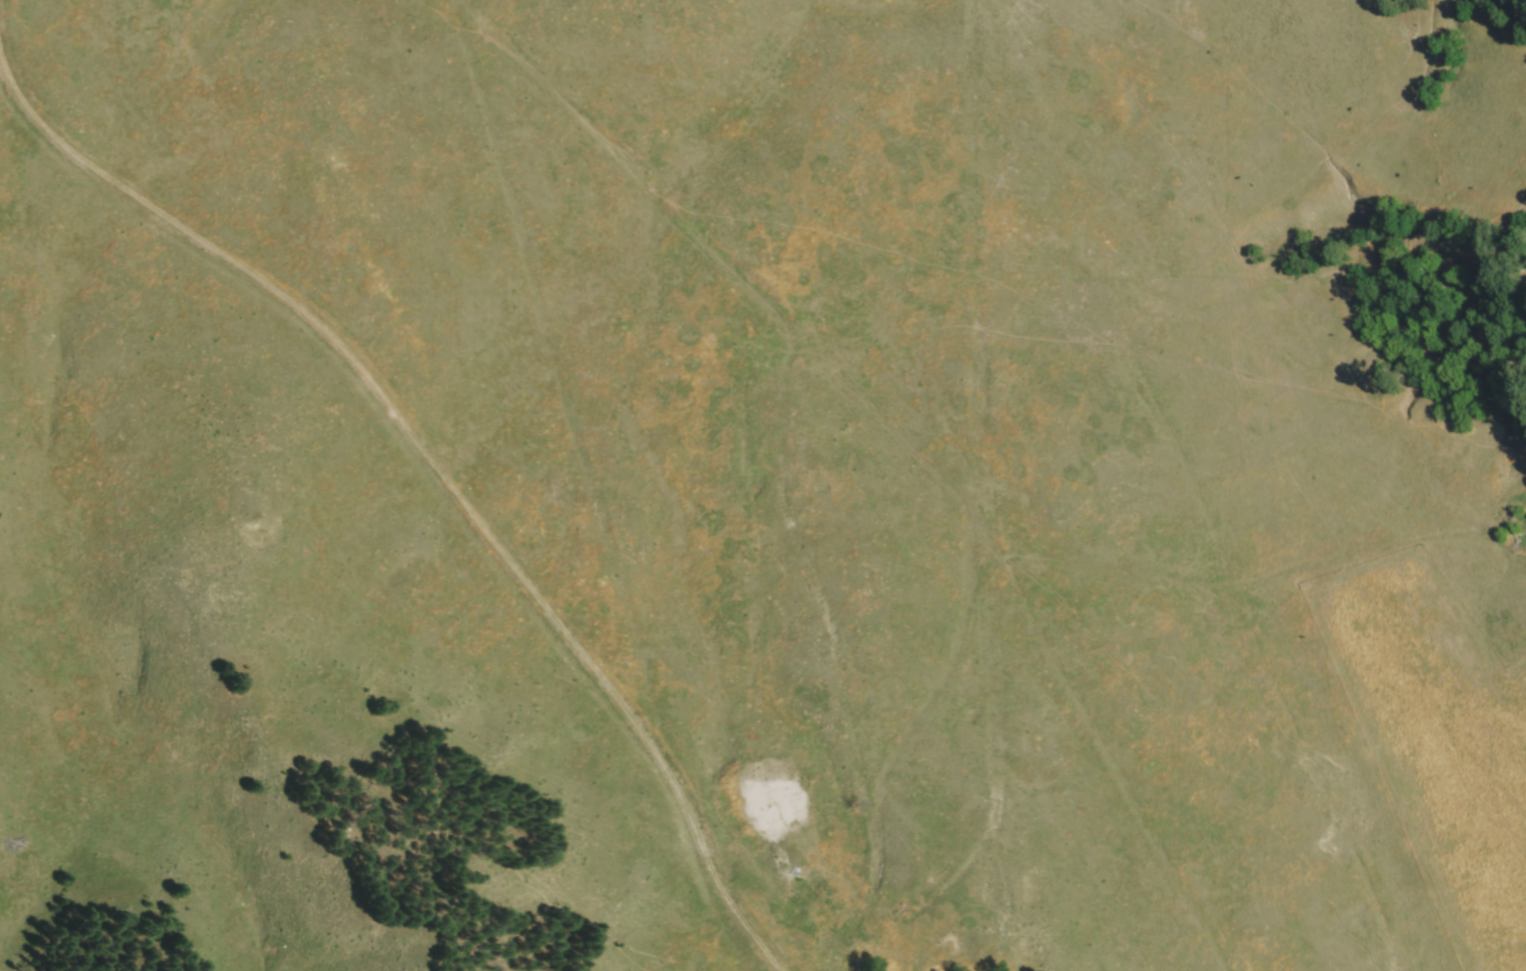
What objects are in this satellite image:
road: (438, 465)

